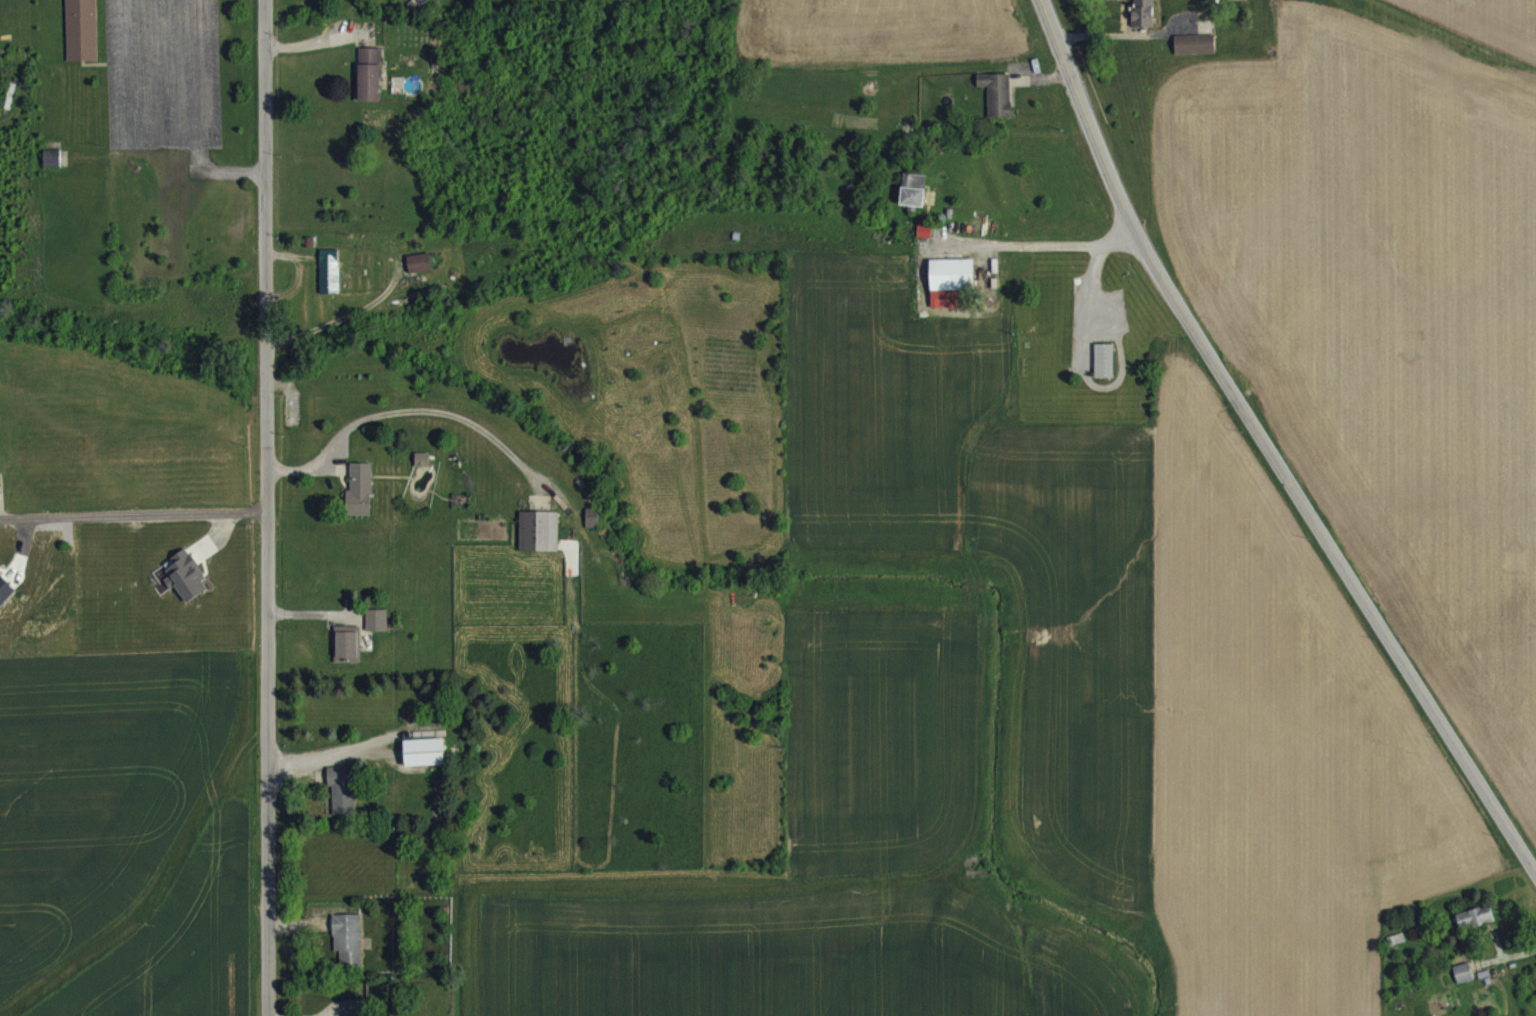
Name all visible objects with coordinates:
building: (1143, 22)
building: (82, 36)
building: (1195, 55)
road: (199, 69)
building: (369, 86)
building: (997, 105)
road: (219, 171)
building: (914, 202)
road: (1038, 236)
building: (419, 274)
building: (329, 282)
building: (952, 294)
road: (343, 316)
building: (1104, 372)
road: (410, 409)
road: (1267, 443)
building: (422, 470)
building: (359, 501)
road: (265, 507)
road: (132, 514)
building: (592, 529)
building: (539, 542)
building: (186, 587)
building: (376, 631)
building: (347, 655)
building: (424, 763)
building: (343, 801)
building: (1474, 929)
building: (348, 950)
building: (1463, 984)
building: (352, 1013)

